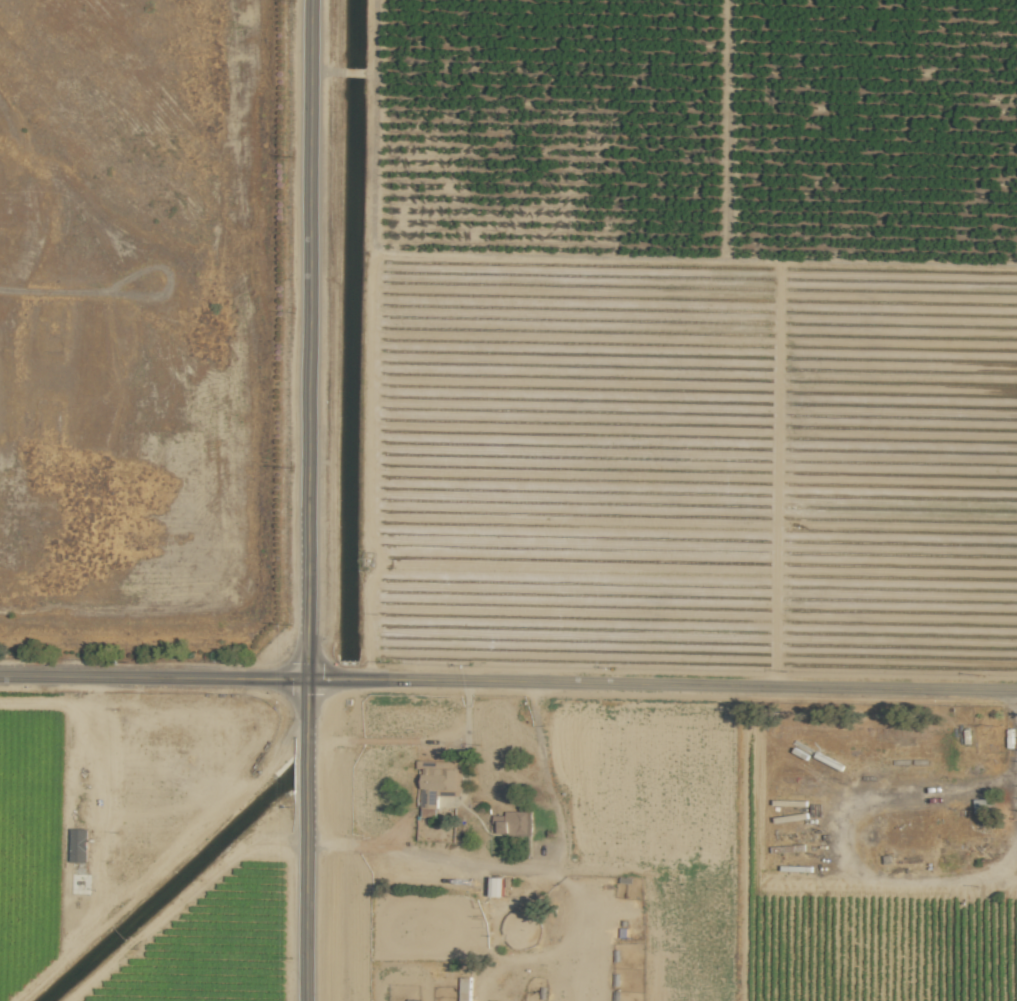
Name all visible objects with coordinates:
road: (309, 339)
road: (508, 680)
road: (416, 741)
building: (439, 783)
building: (514, 823)
road: (306, 839)
building: (79, 845)
road: (518, 867)
building: (495, 886)
building: (465, 989)

